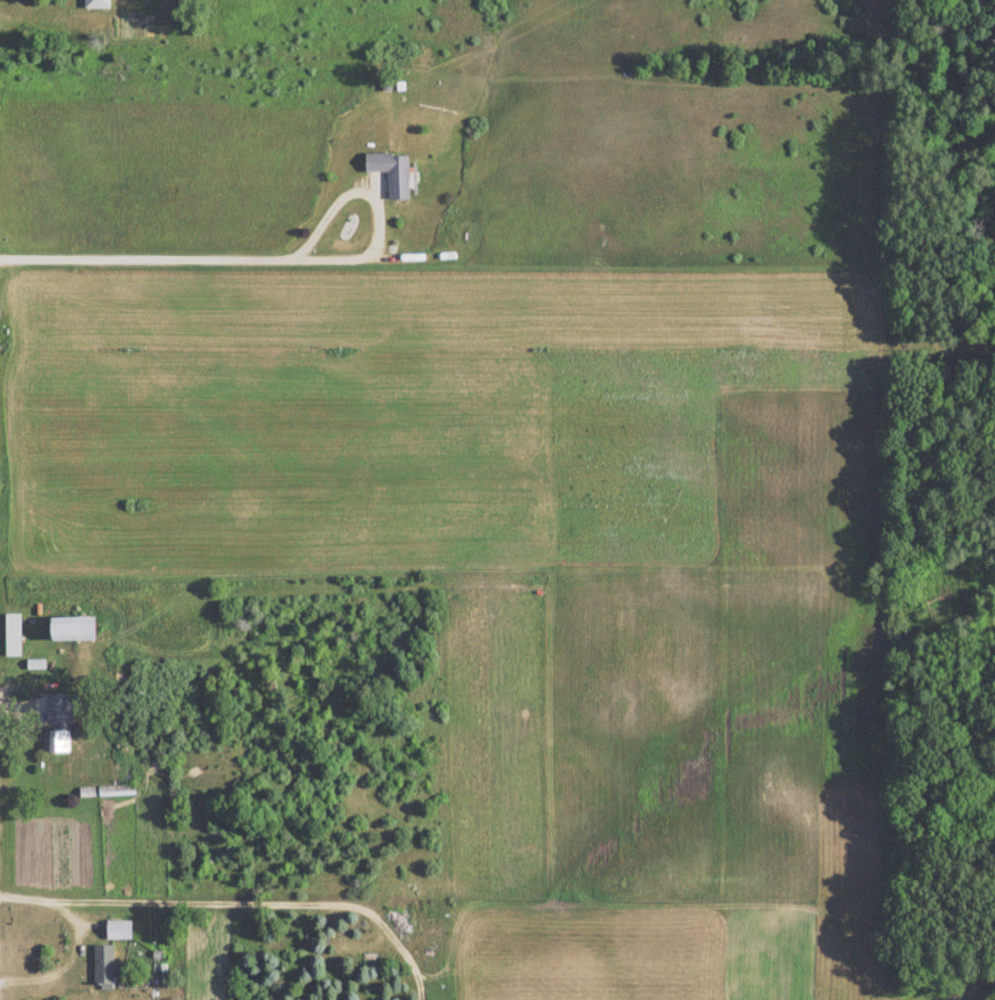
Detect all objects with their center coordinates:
building: (95, 4)
building: (389, 174)
road: (218, 258)
building: (70, 629)
building: (11, 639)
building: (52, 710)
building: (55, 741)
building: (114, 932)
road: (75, 939)
building: (100, 967)

